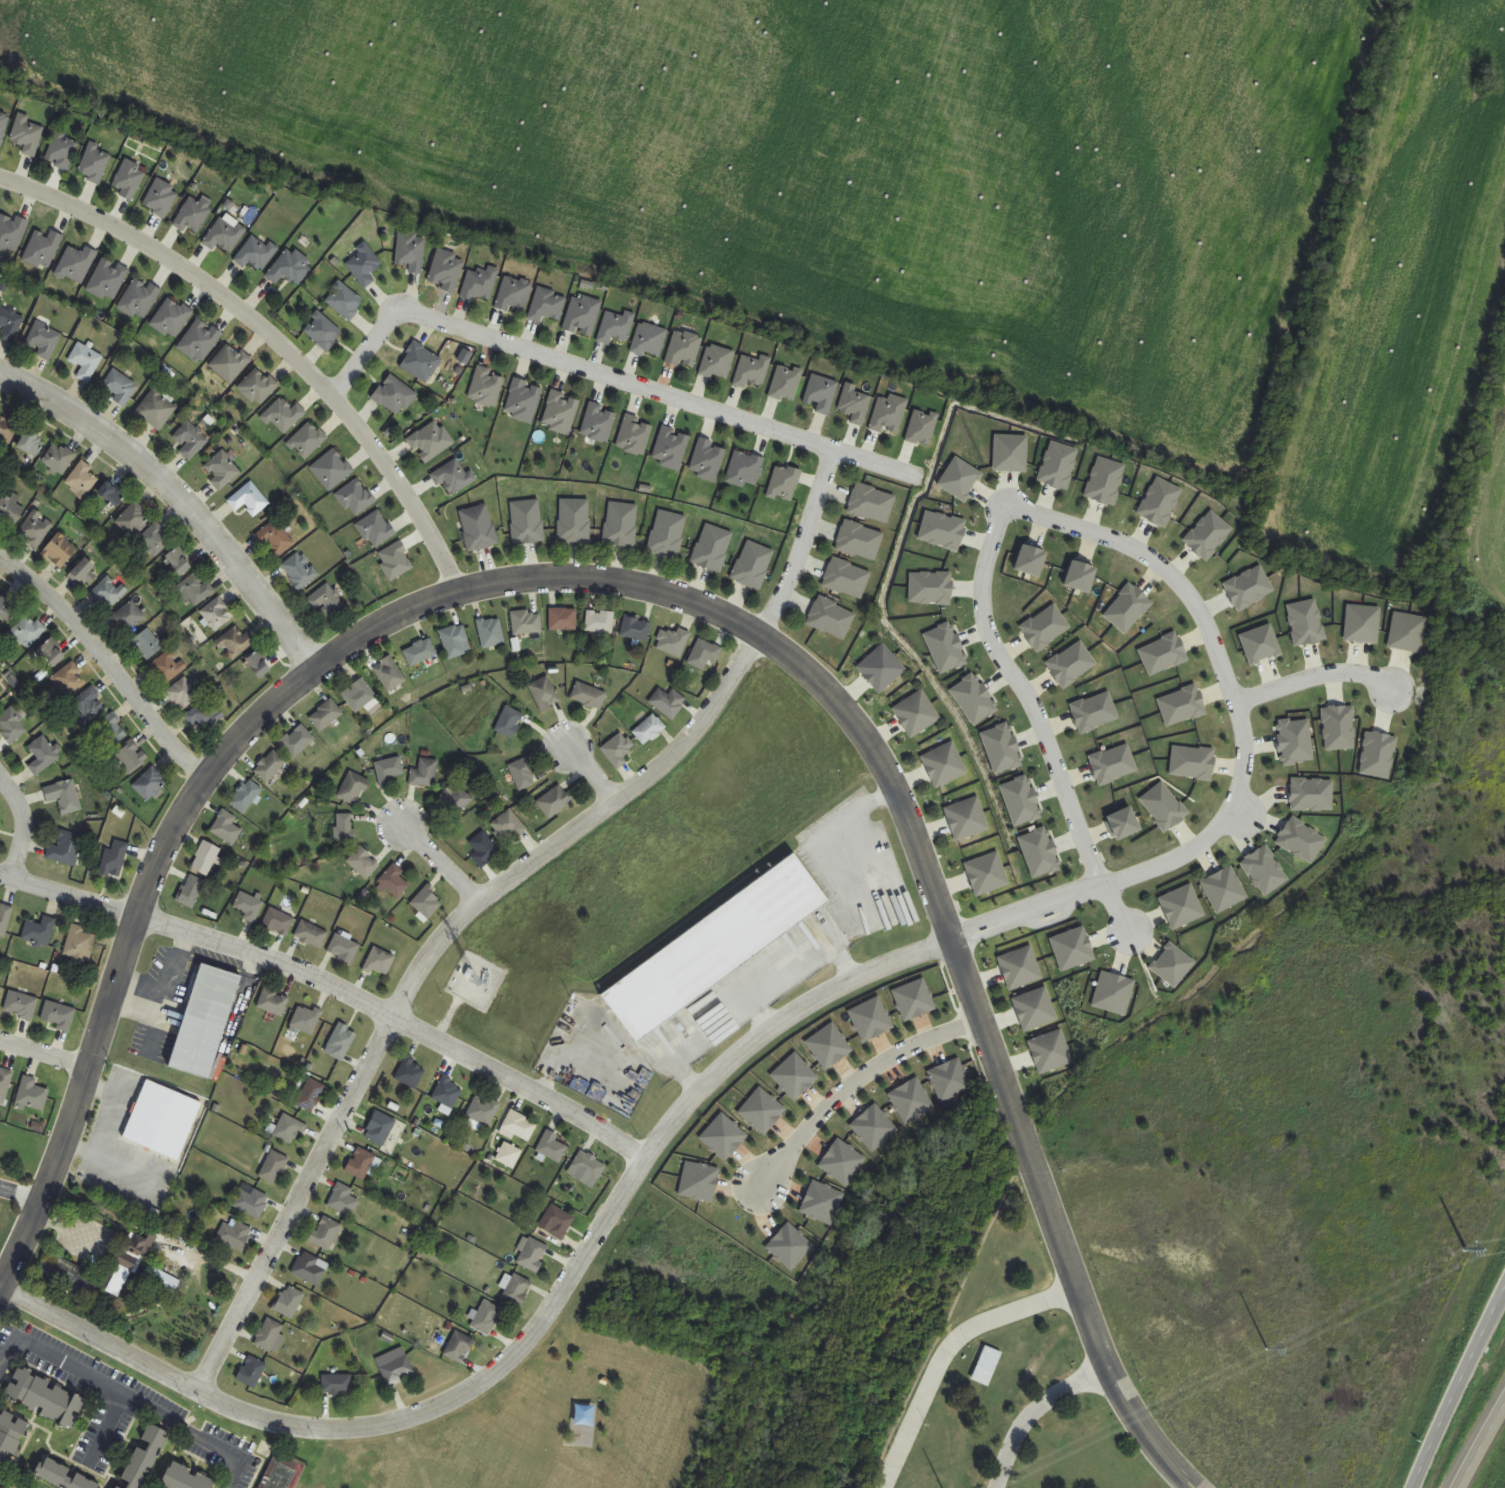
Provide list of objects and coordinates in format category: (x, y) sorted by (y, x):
building: (3, 126)
building: (27, 135)
building: (62, 151)
building: (95, 164)
building: (161, 198)
building: (193, 214)
building: (11, 233)
building: (224, 235)
building: (43, 249)
building: (411, 251)
building: (256, 253)
building: (76, 264)
building: (364, 265)
building: (290, 268)
building: (446, 270)
building: (108, 280)
building: (480, 284)
building: (514, 295)
building: (139, 298)
building: (344, 301)
building: (547, 305)
building: (583, 315)
building: (171, 318)
building: (10, 324)
building: (322, 331)
road: (270, 335)
building: (44, 340)
building: (200, 341)
building: (86, 362)
building: (420, 362)
building: (717, 362)
building: (230, 363)
road: (606, 375)
building: (258, 387)
building: (486, 387)
building: (119, 388)
building: (395, 396)
building: (524, 401)
building: (156, 409)
building: (7, 430)
building: (190, 440)
building: (431, 441)
building: (31, 442)
building: (671, 448)
building: (59, 459)
building: (708, 460)
building: (745, 469)
building: (221, 470)
building: (453, 477)
building: (83, 480)
building: (784, 483)
building: (112, 493)
building: (249, 499)
road: (176, 502)
building: (871, 503)
building: (10, 512)
building: (133, 518)
building: (574, 520)
building: (527, 521)
building: (621, 524)
building: (478, 528)
building: (36, 530)
building: (667, 533)
building: (275, 538)
building: (156, 539)
building: (860, 540)
building: (712, 548)
building: (60, 551)
building: (179, 561)
building: (753, 565)
building: (299, 570)
building: (84, 573)
building: (847, 578)
building: (195, 589)
building: (107, 593)
road: (662, 594)
building: (326, 602)
building: (7, 610)
building: (216, 614)
building: (128, 617)
building: (831, 618)
building: (563, 619)
building: (600, 621)
building: (527, 622)
building: (635, 628)
building: (27, 631)
building: (491, 632)
building: (454, 640)
building: (673, 642)
building: (234, 643)
building: (146, 645)
building: (49, 652)
building: (420, 652)
building: (704, 655)
building: (258, 665)
road: (108, 666)
building: (167, 667)
building: (881, 669)
building: (389, 674)
road: (1314, 675)
building: (69, 679)
building: (0, 688)
building: (544, 693)
building: (183, 694)
road: (1018, 694)
building: (359, 695)
building: (589, 696)
building: (667, 702)
building: (90, 704)
building: (916, 714)
building: (326, 715)
building: (204, 717)
building: (510, 722)
building: (12, 726)
building: (649, 730)
building: (110, 732)
building: (297, 741)
road: (1250, 747)
building: (618, 750)
building: (43, 755)
building: (131, 757)
building: (944, 764)
building: (270, 766)
building: (388, 770)
building: (425, 773)
building: (524, 774)
road: (587, 775)
building: (150, 783)
building: (353, 789)
building: (64, 796)
building: (246, 796)
building: (454, 802)
building: (555, 802)
building: (966, 818)
building: (508, 826)
road: (20, 827)
building: (345, 827)
building: (226, 828)
road: (815, 842)
building: (65, 848)
building: (484, 849)
building: (115, 858)
building: (206, 858)
road: (432, 862)
building: (363, 863)
building: (394, 881)
building: (190, 891)
road: (485, 895)
building: (427, 903)
road: (1115, 911)
building: (5, 919)
building: (278, 922)
building: (40, 931)
building: (311, 935)
building: (80, 945)
building: (715, 948)
building: (344, 949)
building: (379, 962)
building: (1020, 968)
road: (791, 973)
building: (0, 990)
road: (331, 994)
building: (273, 1002)
building: (21, 1005)
building: (1035, 1009)
building: (58, 1015)
building: (305, 1020)
building: (205, 1022)
building: (341, 1041)
building: (1050, 1052)
road: (44, 1054)
building: (410, 1073)
road: (845, 1082)
building: (4, 1085)
building: (448, 1092)
building: (32, 1094)
building: (311, 1095)
building: (482, 1112)
building: (162, 1120)
building: (520, 1126)
building: (380, 1128)
building: (289, 1129)
building: (552, 1147)
building: (361, 1164)
building: (589, 1165)
building: (274, 1167)
road: (18, 1195)
building: (344, 1200)
building: (252, 1203)
building: (557, 1222)
building: (326, 1233)
building: (235, 1234)
building: (531, 1254)
building: (128, 1264)
building: (310, 1268)
building: (162, 1280)
building: (516, 1290)
building: (289, 1302)
building: (485, 1317)
building: (271, 1335)
road: (530, 1337)
building: (459, 1347)
power tower: (1267, 1350)
road: (943, 1352)
building: (395, 1366)
building: (986, 1366)
building: (252, 1372)
building: (337, 1384)
road: (1457, 1389)
road: (127, 1395)
building: (46, 1398)
road: (1030, 1411)
building: (584, 1415)
road: (107, 1426)
building: (10, 1441)
road: (1480, 1446)
building: (144, 1457)
building: (63, 1476)
building: (186, 1479)
building: (118, 1487)

